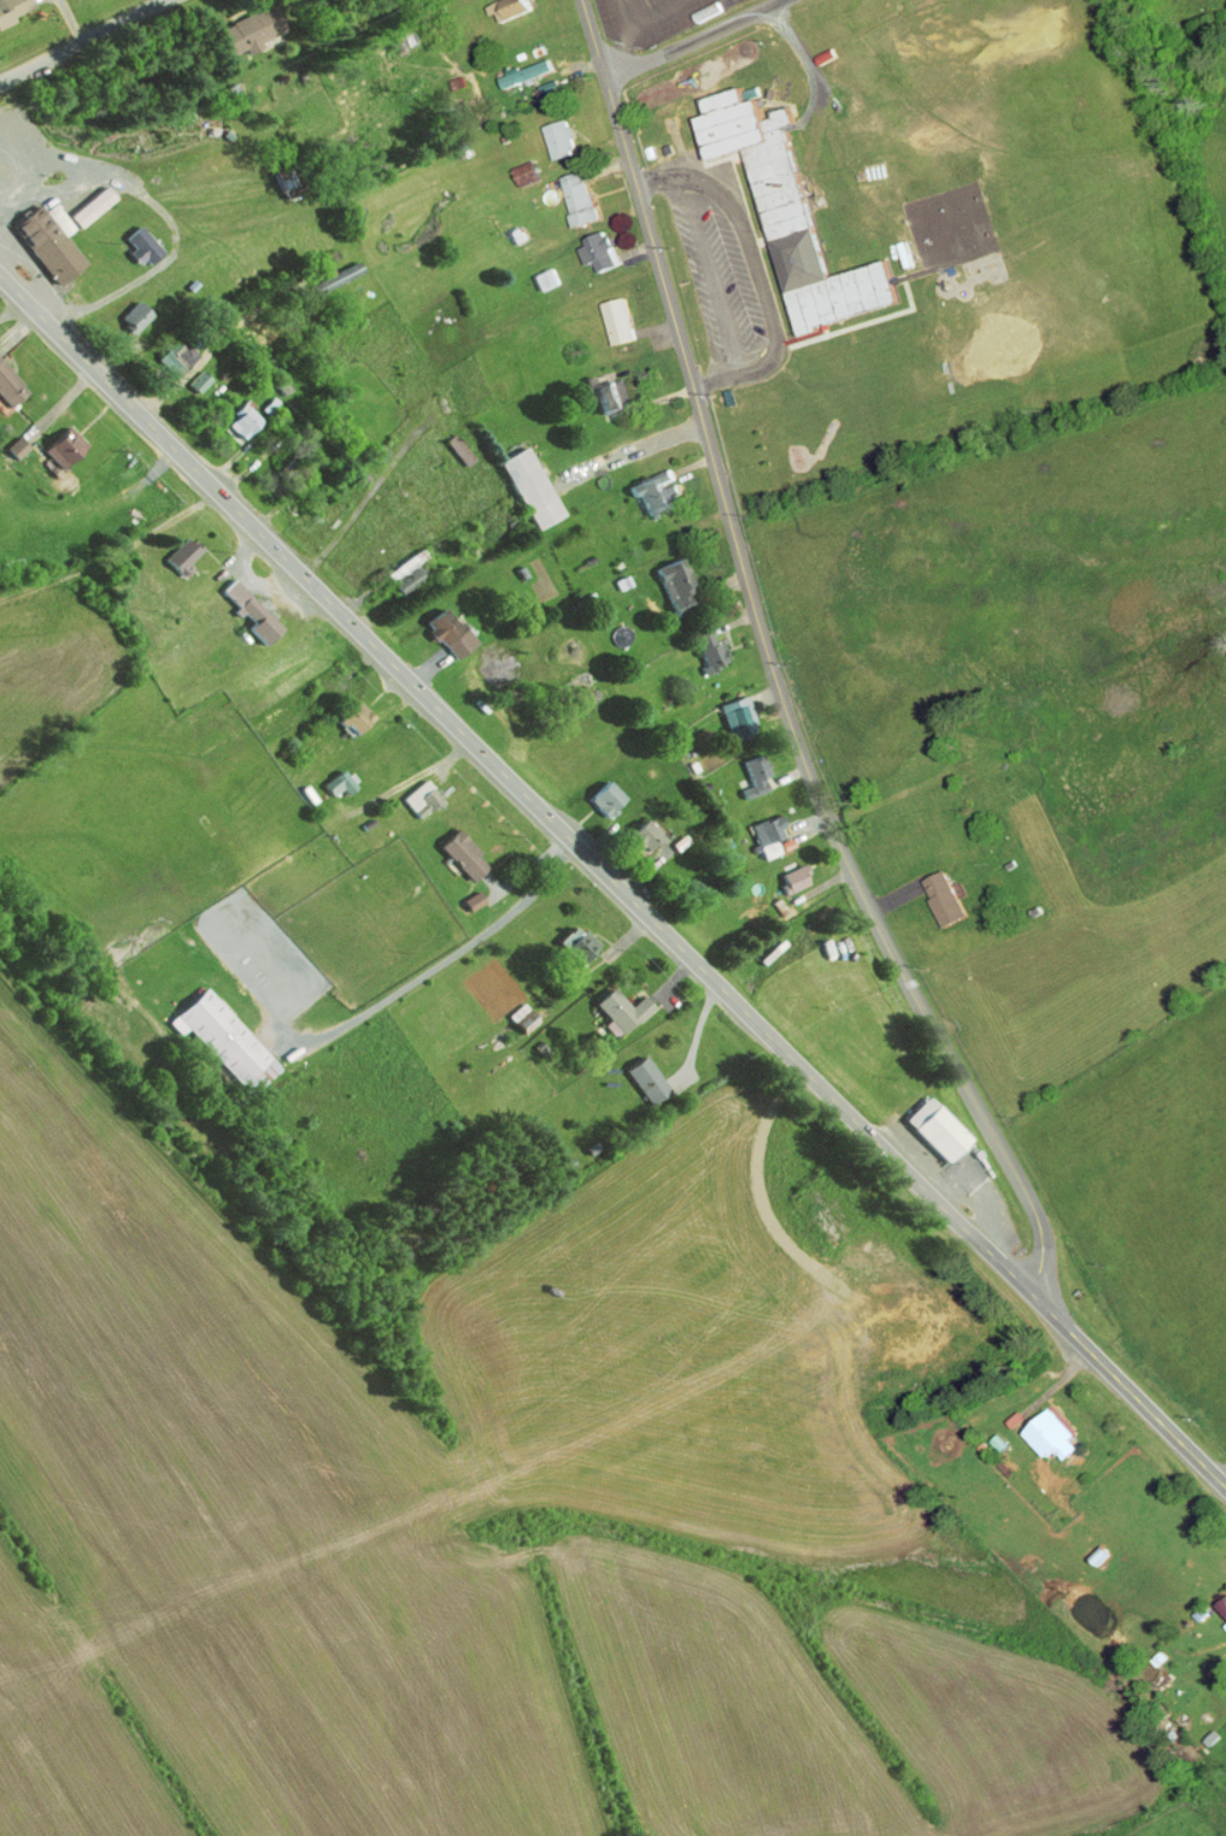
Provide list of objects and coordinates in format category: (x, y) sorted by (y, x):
road: (83, 41)
road: (694, 41)
road: (213, 341)
road: (630, 452)
road: (369, 496)
road: (115, 555)
road: (772, 668)
road: (888, 797)
road: (612, 881)
road: (459, 953)
road: (534, 1454)
road: (1222, 1479)

